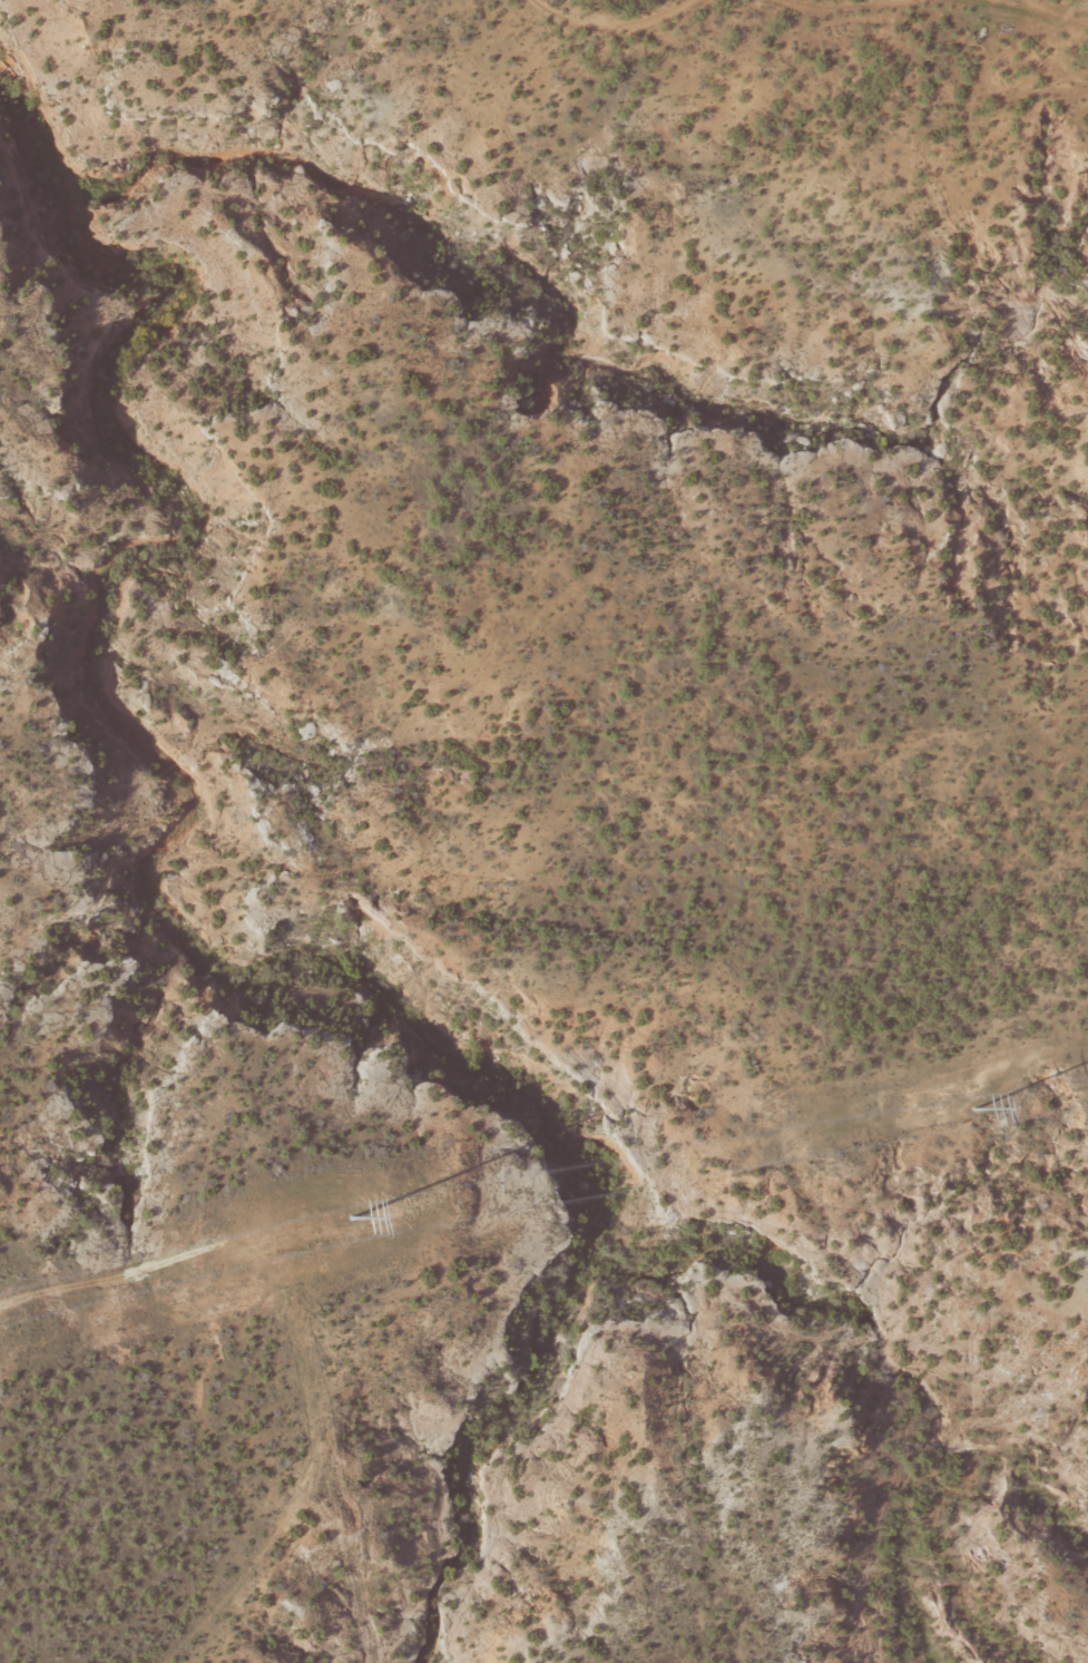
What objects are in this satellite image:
power tower: (976, 1109)
power tower: (353, 1217)

